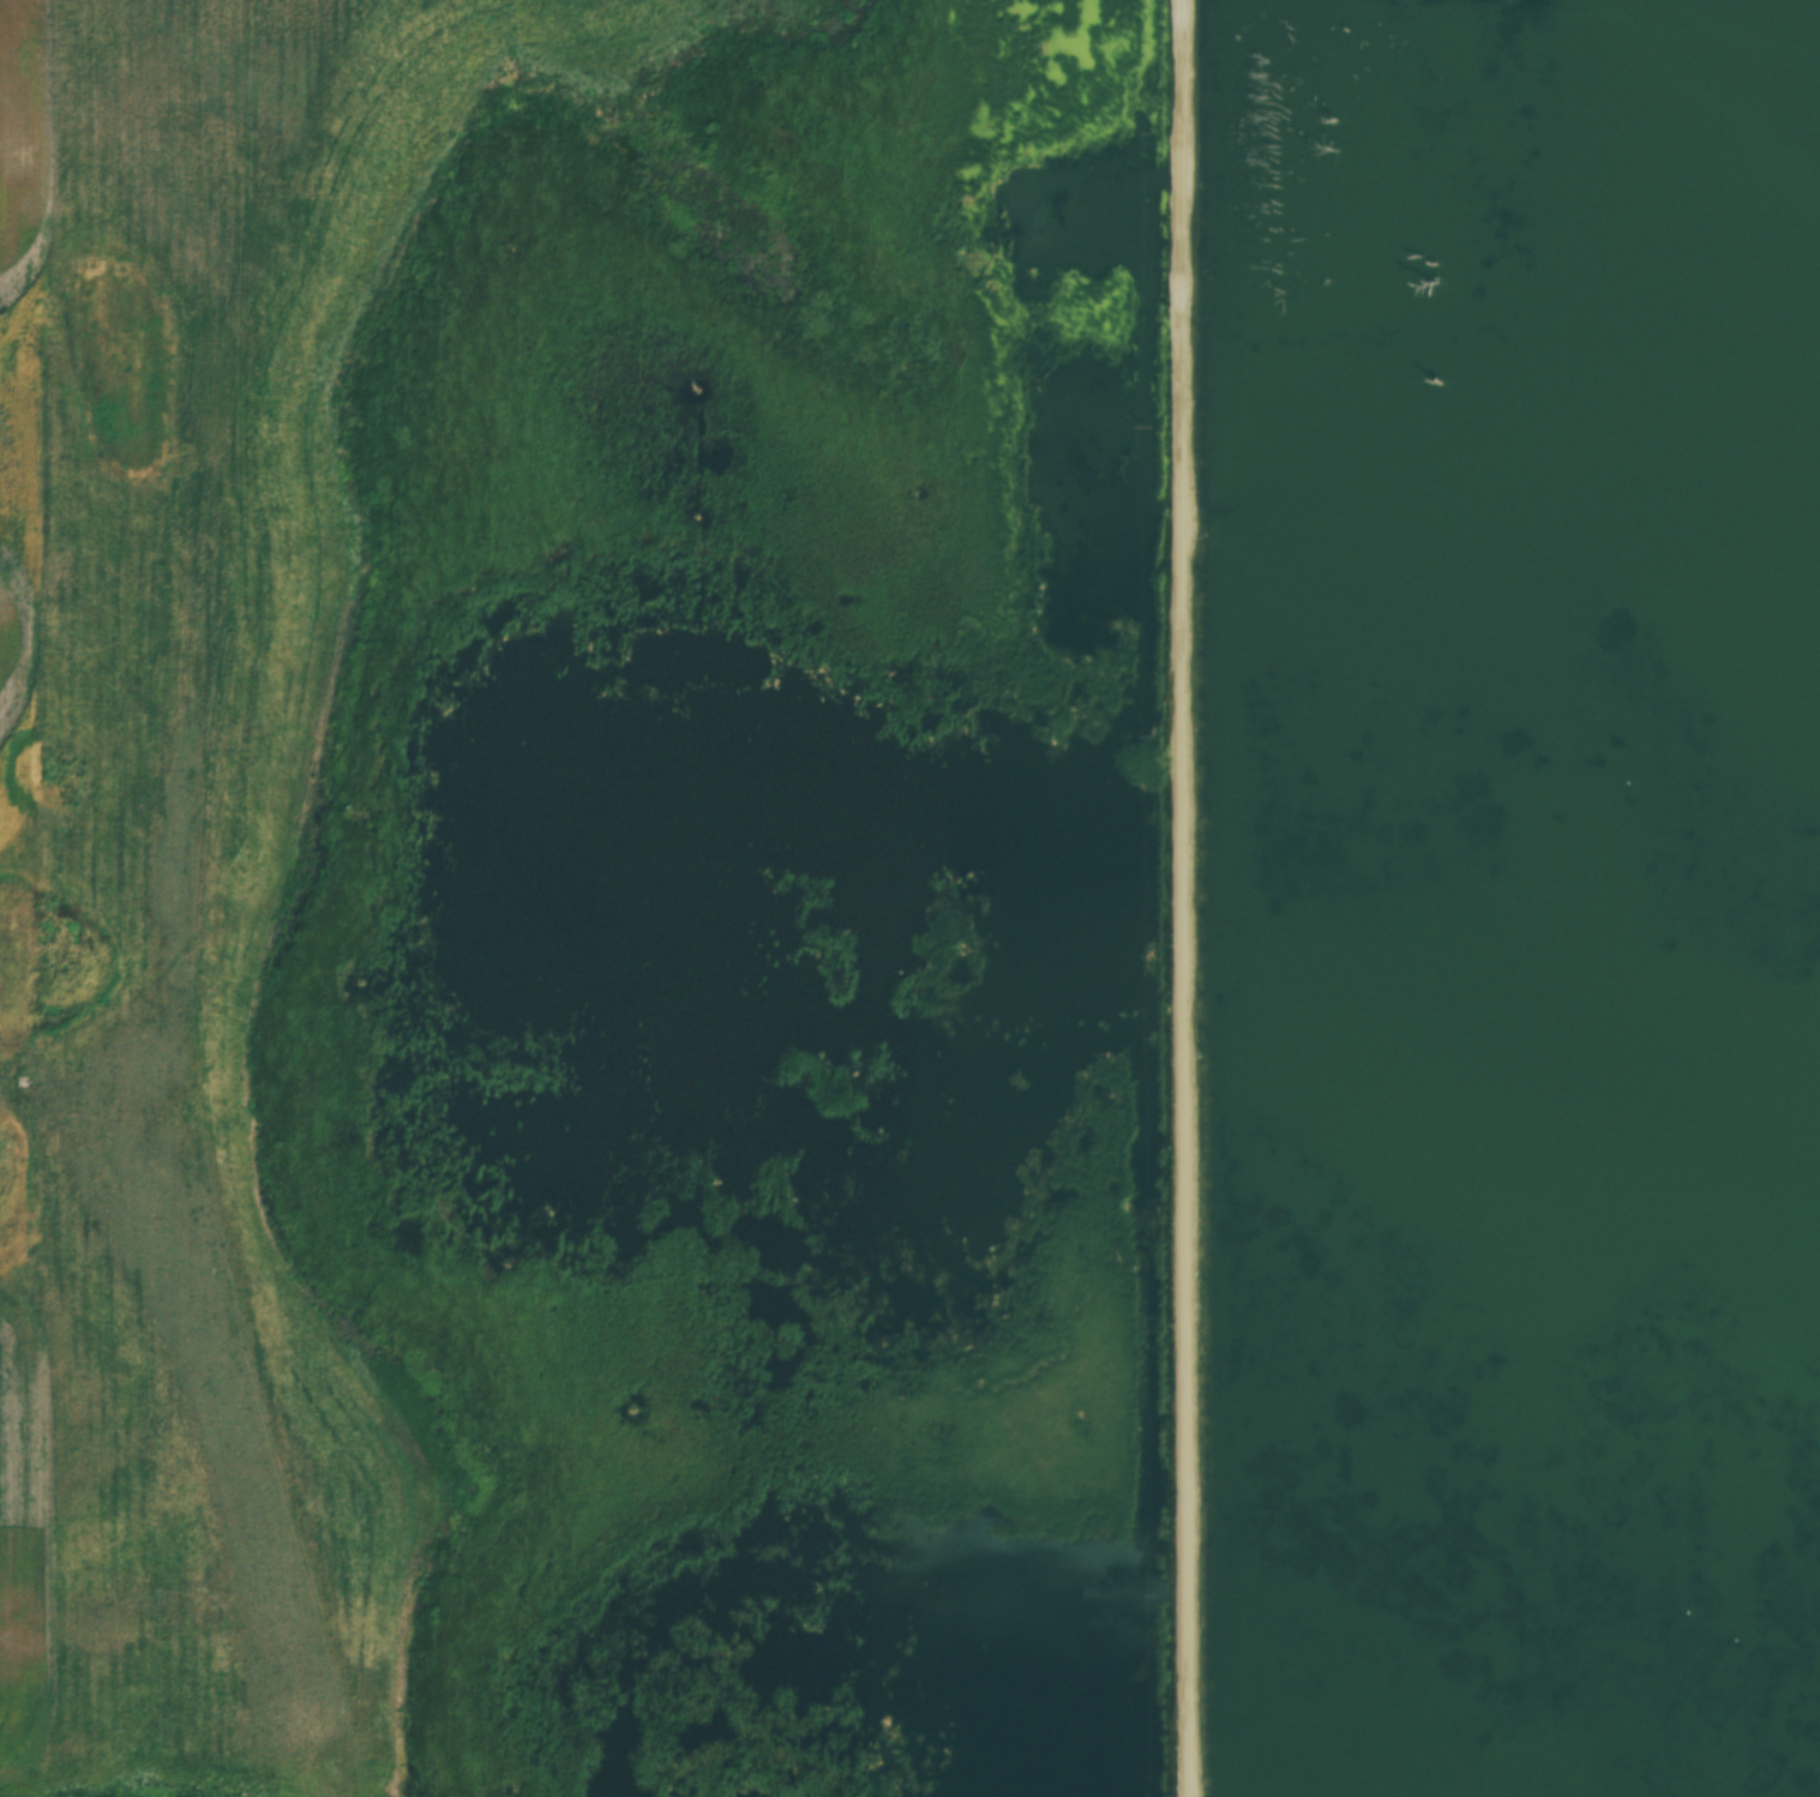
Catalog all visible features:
building: (1530, 96)
road: (1437, 335)
road: (1195, 898)

